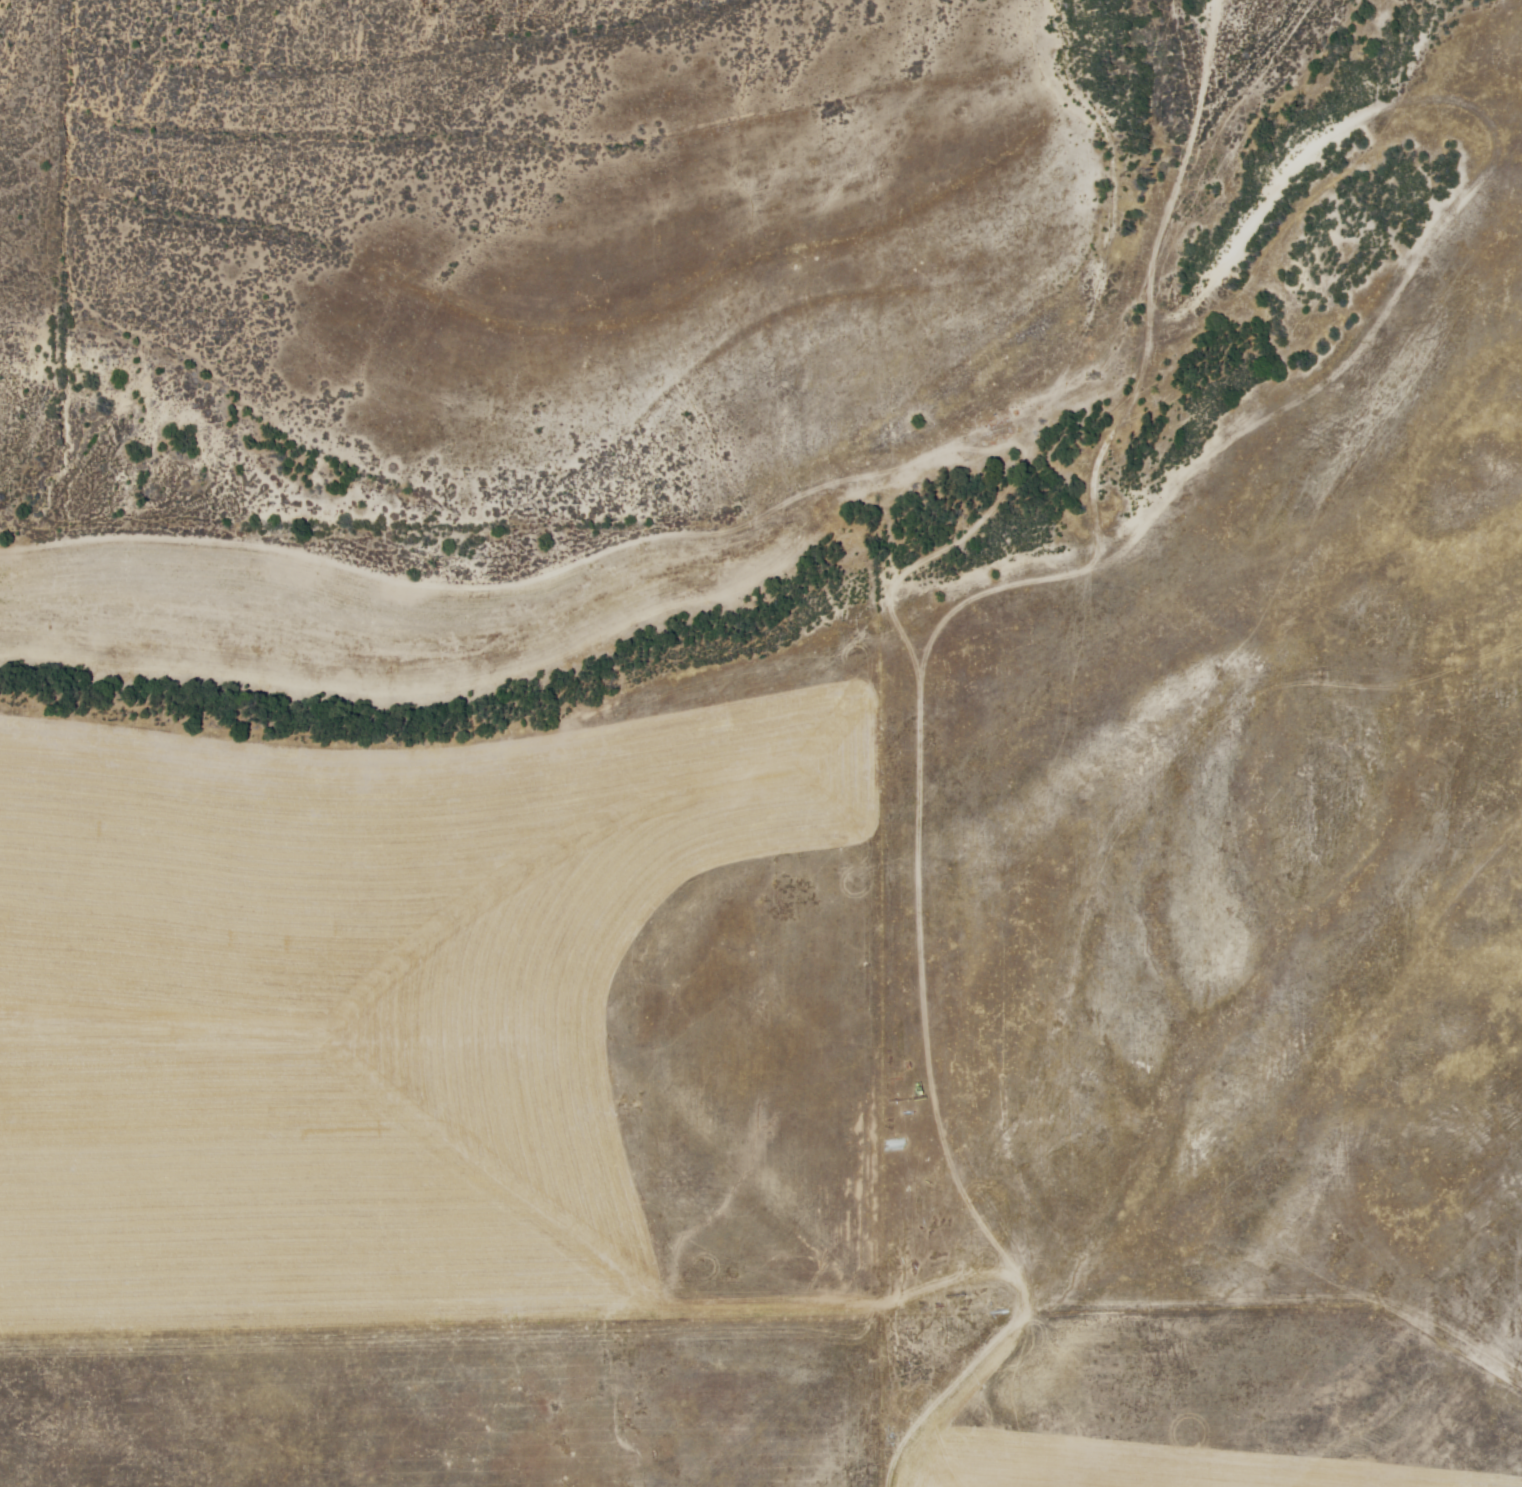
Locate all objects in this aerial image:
road: (910, 688)

